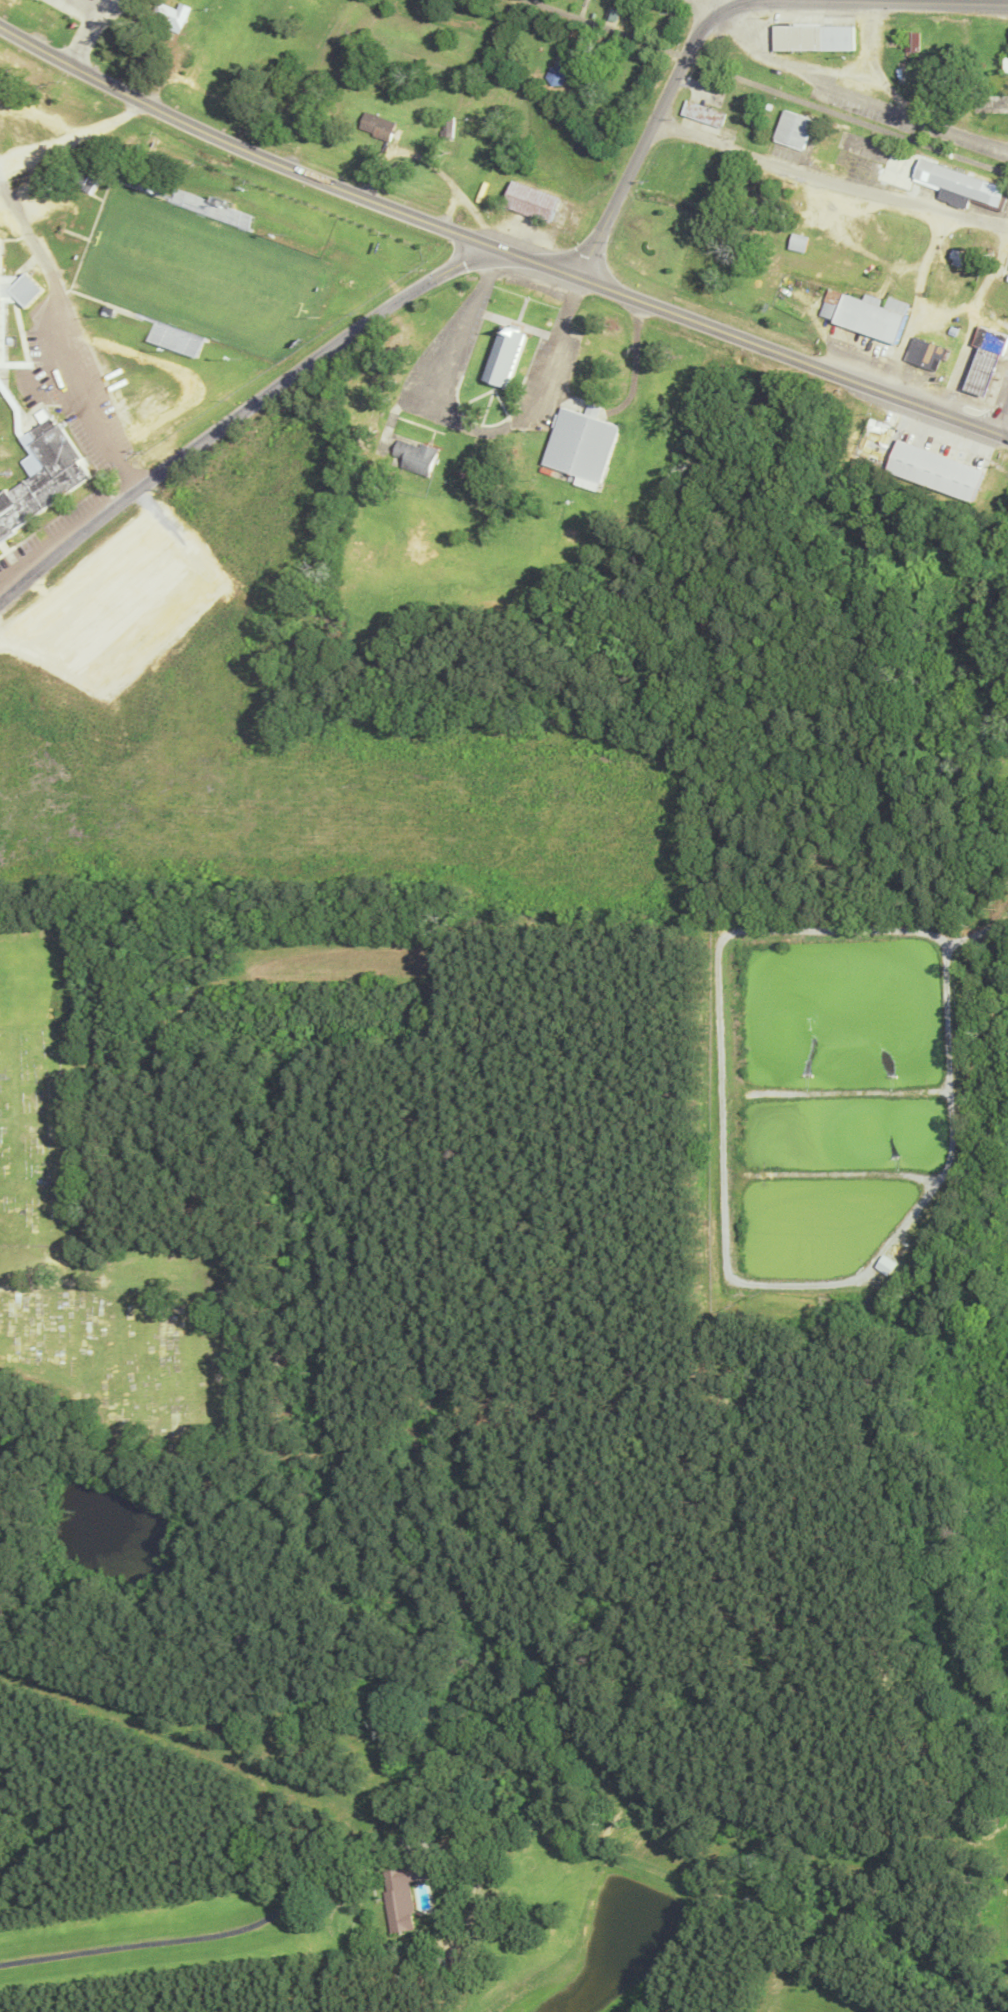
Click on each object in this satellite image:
road: (880, 0)
building: (205, 2)
building: (166, 21)
building: (837, 36)
building: (798, 37)
road: (692, 42)
building: (911, 43)
building: (1004, 64)
building: (555, 74)
road: (767, 87)
building: (990, 103)
road: (664, 104)
road: (903, 104)
building: (704, 112)
building: (377, 125)
building: (448, 126)
building: (793, 127)
building: (86, 179)
road: (830, 181)
building: (958, 181)
road: (615, 198)
building: (531, 201)
building: (211, 209)
building: (798, 243)
road: (497, 246)
park: (199, 271)
road: (487, 275)
building: (17, 288)
road: (568, 301)
building: (831, 303)
building: (868, 317)
building: (989, 338)
building: (924, 353)
building: (504, 354)
parking lot: (440, 367)
building: (981, 370)
parking lot: (547, 378)
road: (238, 415)
road: (991, 416)
road: (1004, 422)
road: (471, 426)
building: (581, 442)
building: (415, 456)
building: (934, 470)
building: (44, 474)
building: (5, 501)
building: (400, 1896)

